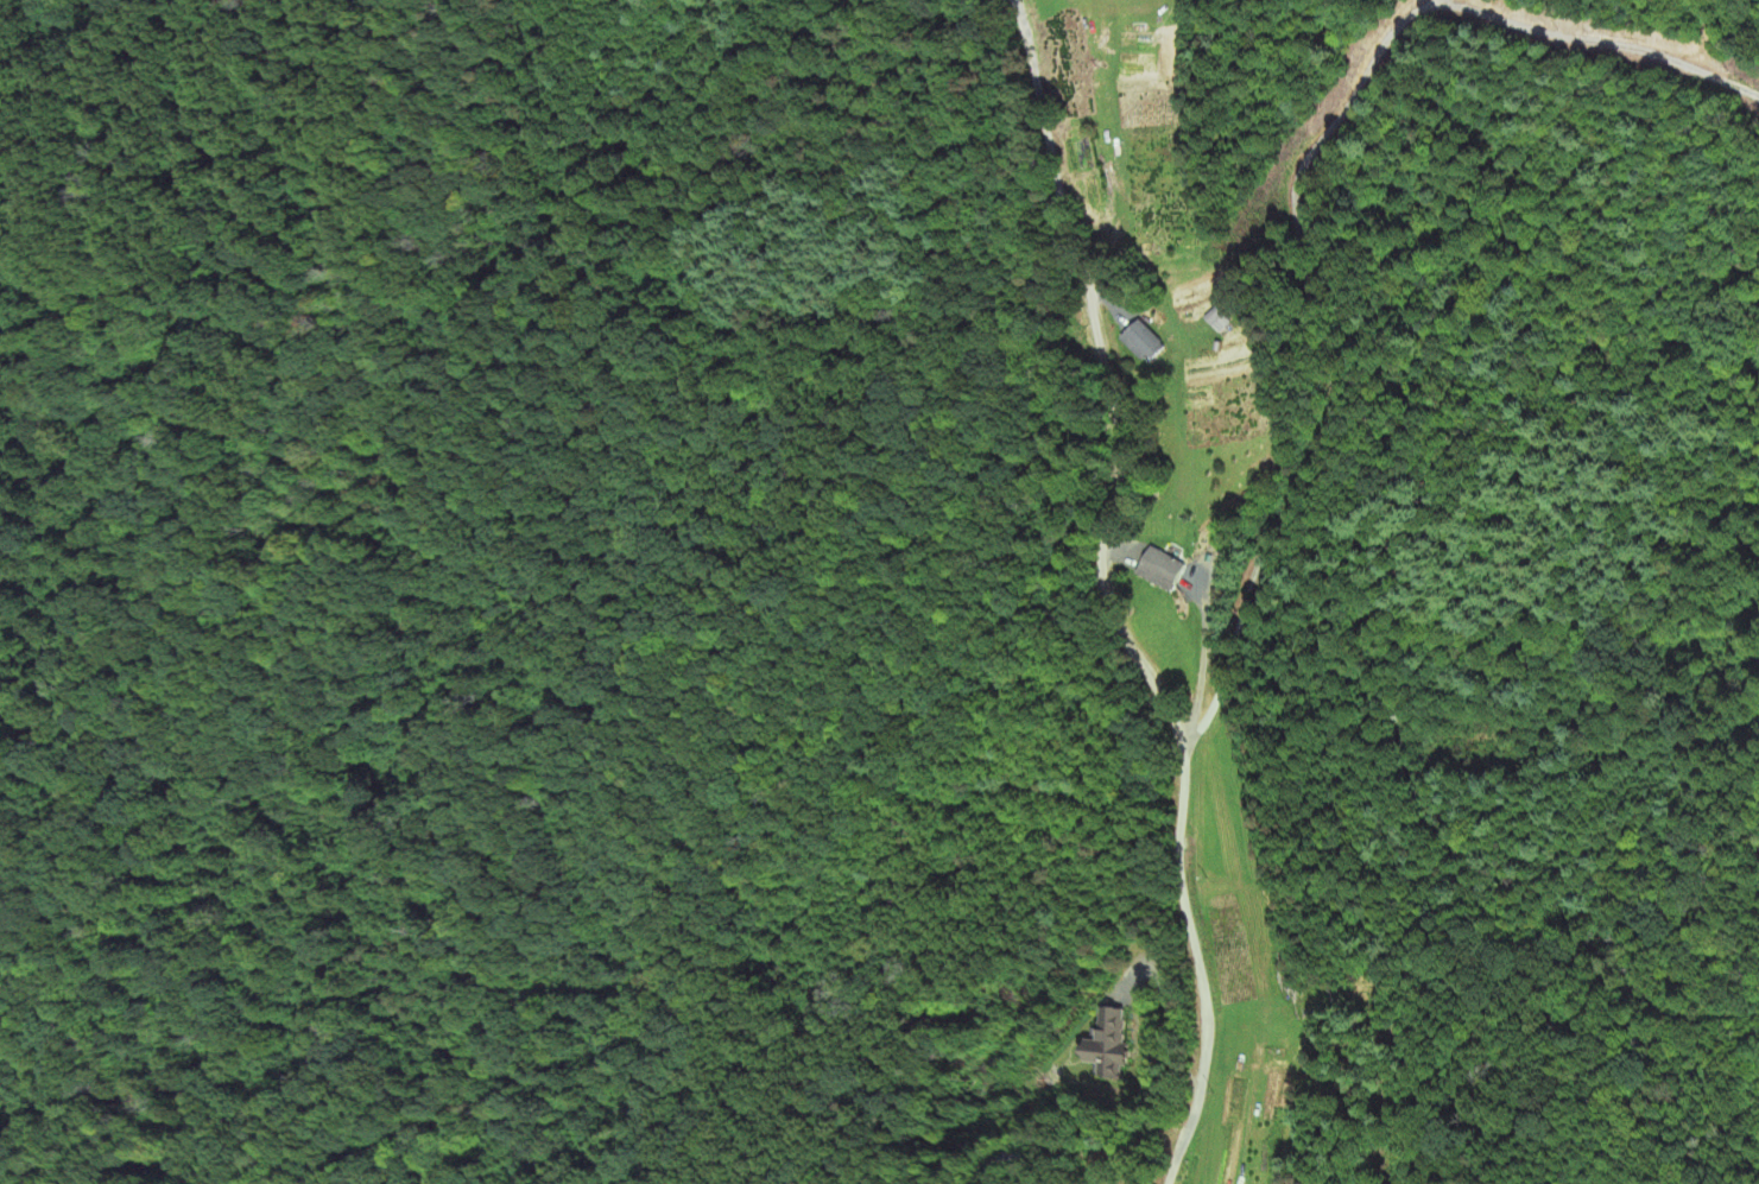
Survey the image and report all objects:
building: (1144, 344)
building: (1163, 570)
road: (1111, 595)
building: (1112, 1046)

